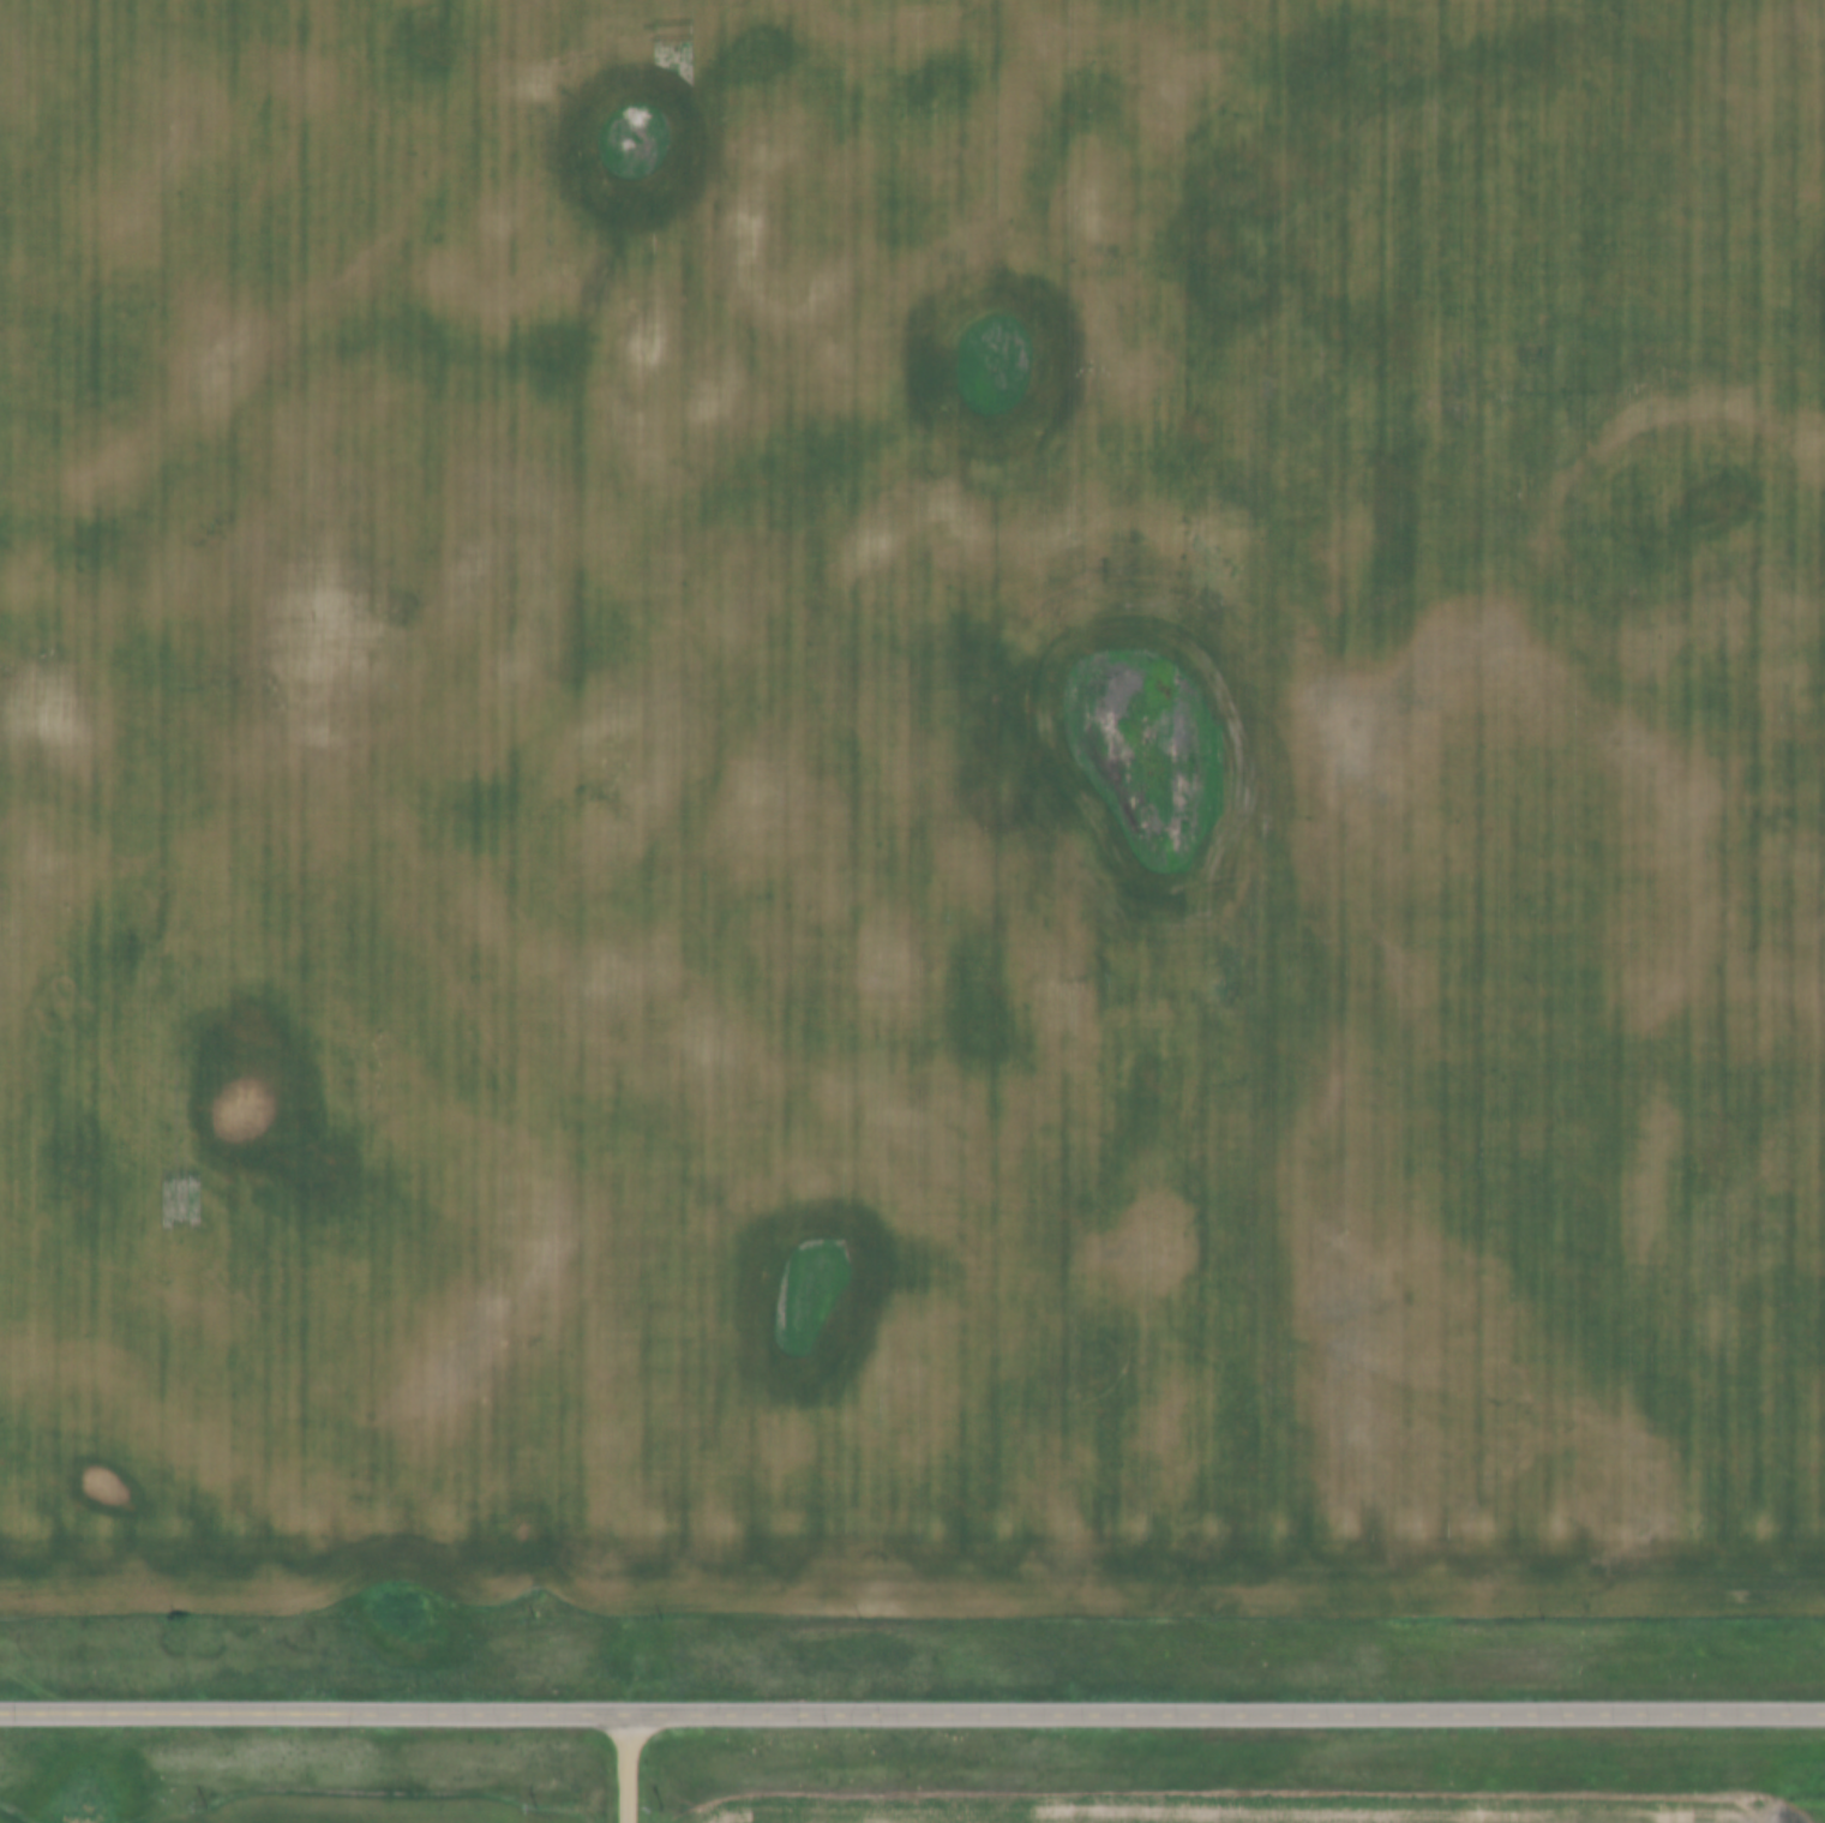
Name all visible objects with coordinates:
road: (912, 1710)
road: (630, 1767)

